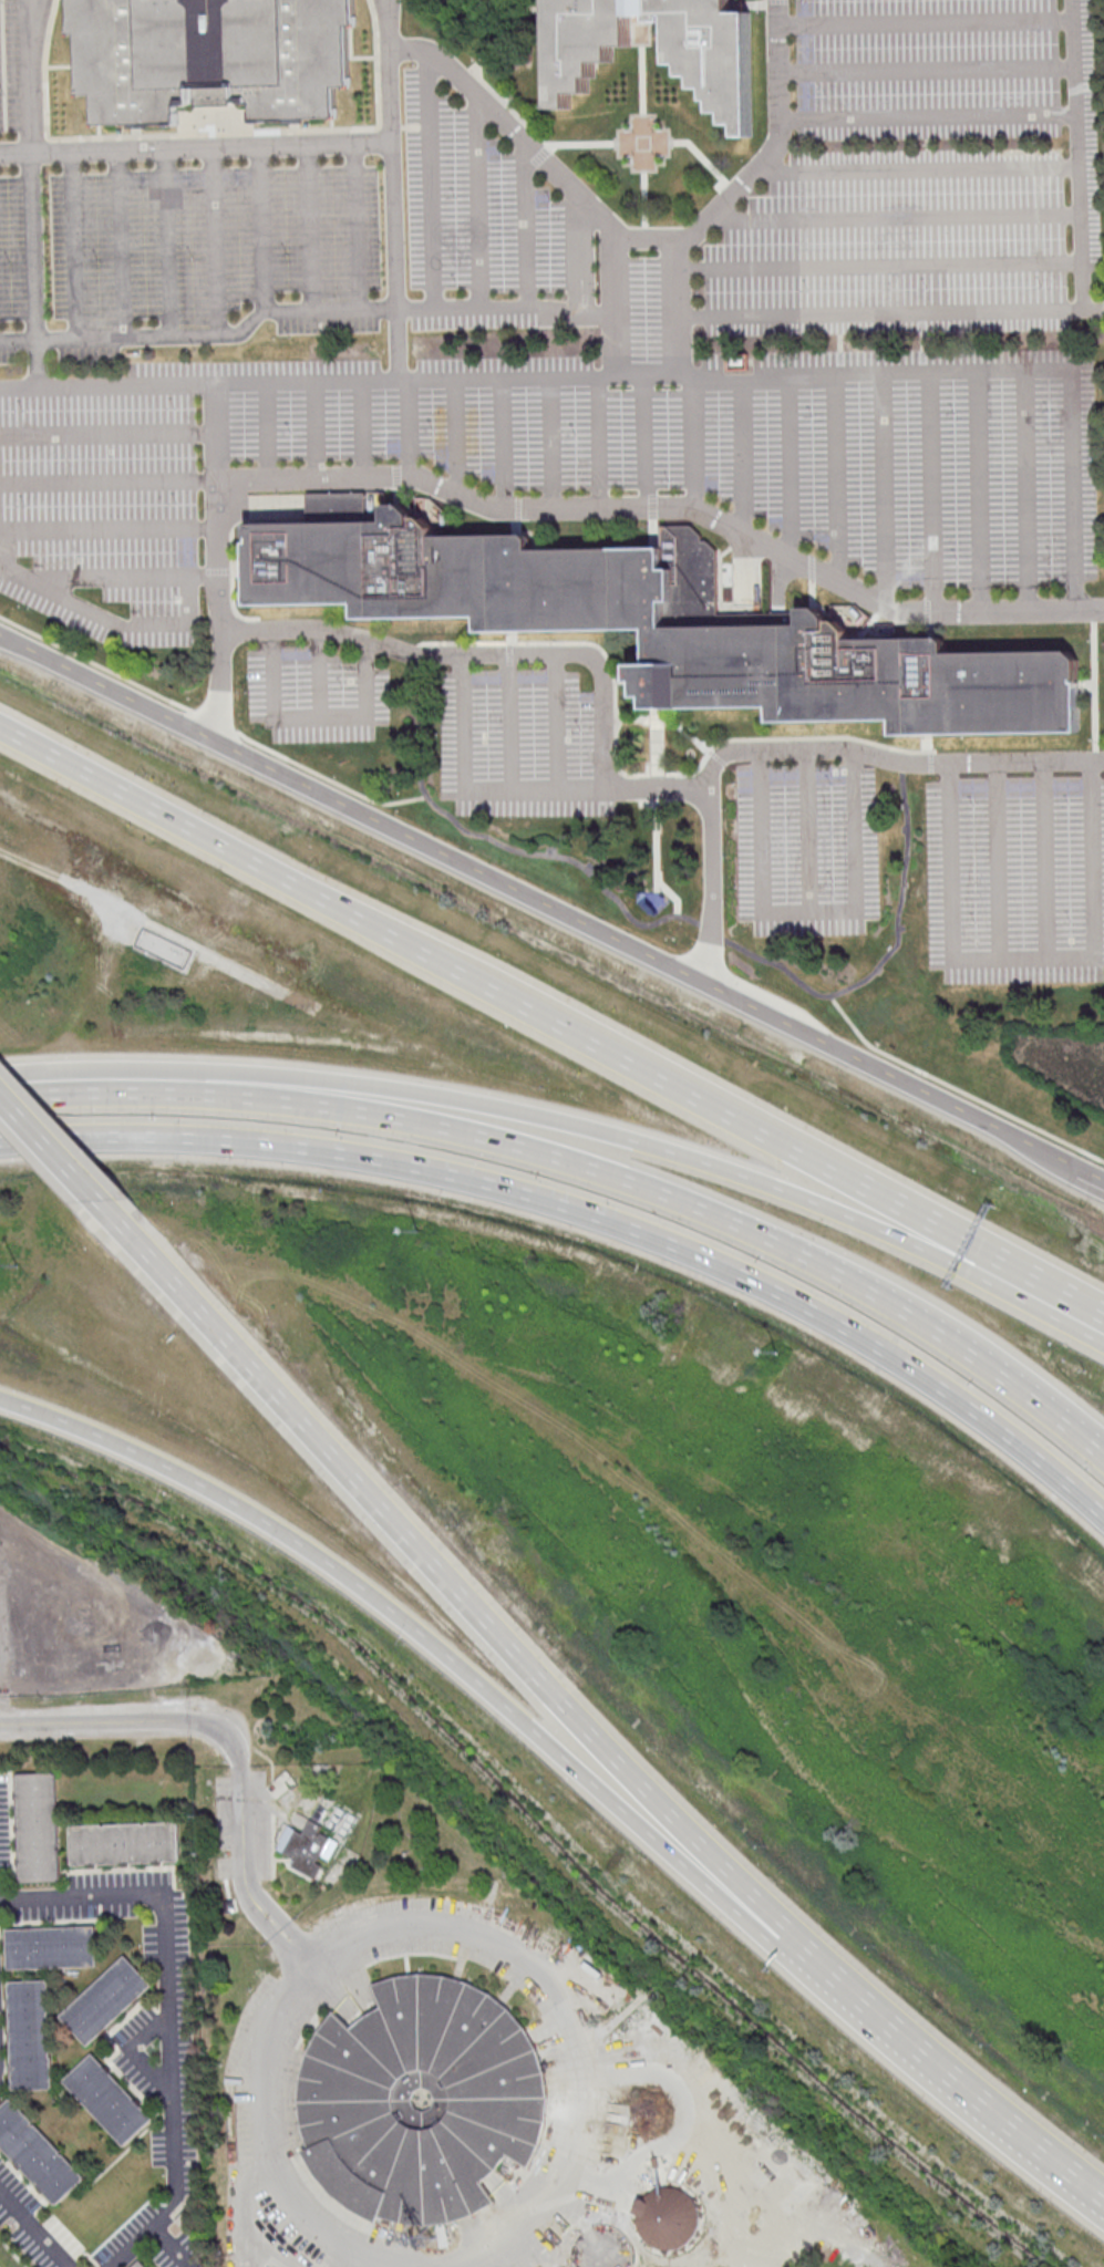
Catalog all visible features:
road: (927, 20)
building: (211, 55)
road: (928, 68)
building: (716, 69)
road: (392, 71)
road: (928, 116)
road: (196, 148)
road: (1080, 156)
road: (643, 161)
road: (759, 168)
road: (918, 168)
parking lot: (921, 176)
road: (560, 178)
road: (433, 179)
road: (33, 191)
road: (479, 201)
road: (900, 216)
road: (357, 226)
road: (309, 227)
road: (528, 227)
road: (261, 229)
road: (167, 241)
road: (211, 241)
road: (118, 244)
road: (75, 245)
road: (575, 252)
road: (395, 261)
road: (885, 265)
road: (540, 310)
road: (1096, 312)
road: (646, 314)
road: (886, 314)
road: (202, 334)
road: (647, 346)
road: (880, 370)
road: (648, 375)
road: (364, 381)
road: (19, 385)
road: (694, 412)
road: (361, 427)
road: (411, 428)
road: (313, 429)
road: (269, 431)
road: (107, 432)
road: (216, 432)
road: (455, 436)
road: (648, 438)
road: (501, 443)
road: (600, 443)
road: (551, 444)
road: (736, 452)
parking lot: (905, 463)
road: (792, 466)
road: (837, 476)
road: (109, 480)
road: (1075, 486)
road: (884, 487)
road: (978, 487)
road: (1029, 487)
road: (932, 488)
road: (651, 505)
road: (580, 509)
road: (110, 527)
road: (654, 531)
road: (732, 546)
road: (234, 566)
road: (106, 577)
road: (1092, 608)
road: (1094, 613)
road: (99, 617)
building: (662, 623)
road: (869, 623)
road: (947, 625)
road: (525, 654)
road: (97, 665)
road: (319, 674)
road: (625, 681)
road: (1087, 683)
road: (1095, 683)
road: (221, 689)
road: (615, 706)
road: (653, 714)
road: (313, 721)
road: (509, 721)
road: (219, 722)
road: (559, 723)
road: (667, 723)
road: (663, 747)
road: (1096, 754)
road: (902, 760)
road: (1097, 760)
road: (332, 780)
road: (656, 787)
road: (468, 790)
road: (128, 794)
road: (813, 829)
road: (657, 845)
road: (571, 857)
road: (949, 859)
road: (997, 860)
road: (1049, 860)
road: (713, 876)
building: (657, 901)
road: (808, 910)
road: (551, 913)
road: (712, 930)
road: (1095, 931)
road: (891, 950)
road: (559, 1023)
road: (364, 1084)
road: (49, 1087)
road: (958, 1090)
road: (51, 1143)
road: (634, 1182)
road: (590, 1213)
road: (871, 1226)
road: (982, 1248)
road: (165, 1265)
road: (993, 1350)
road: (415, 1628)
road: (504, 1635)
road: (133, 1722)
building: (41, 1830)
building: (127, 1845)
building: (311, 1850)
building: (53, 1948)
building: (106, 2002)
road: (173, 2010)
building: (32, 2036)
road: (941, 2069)
building: (355, 2102)
building: (112, 2105)
road: (574, 2118)
building: (37, 2159)
building: (667, 2216)
road: (37, 2227)
building: (601, 2248)
building: (144, 2266)

